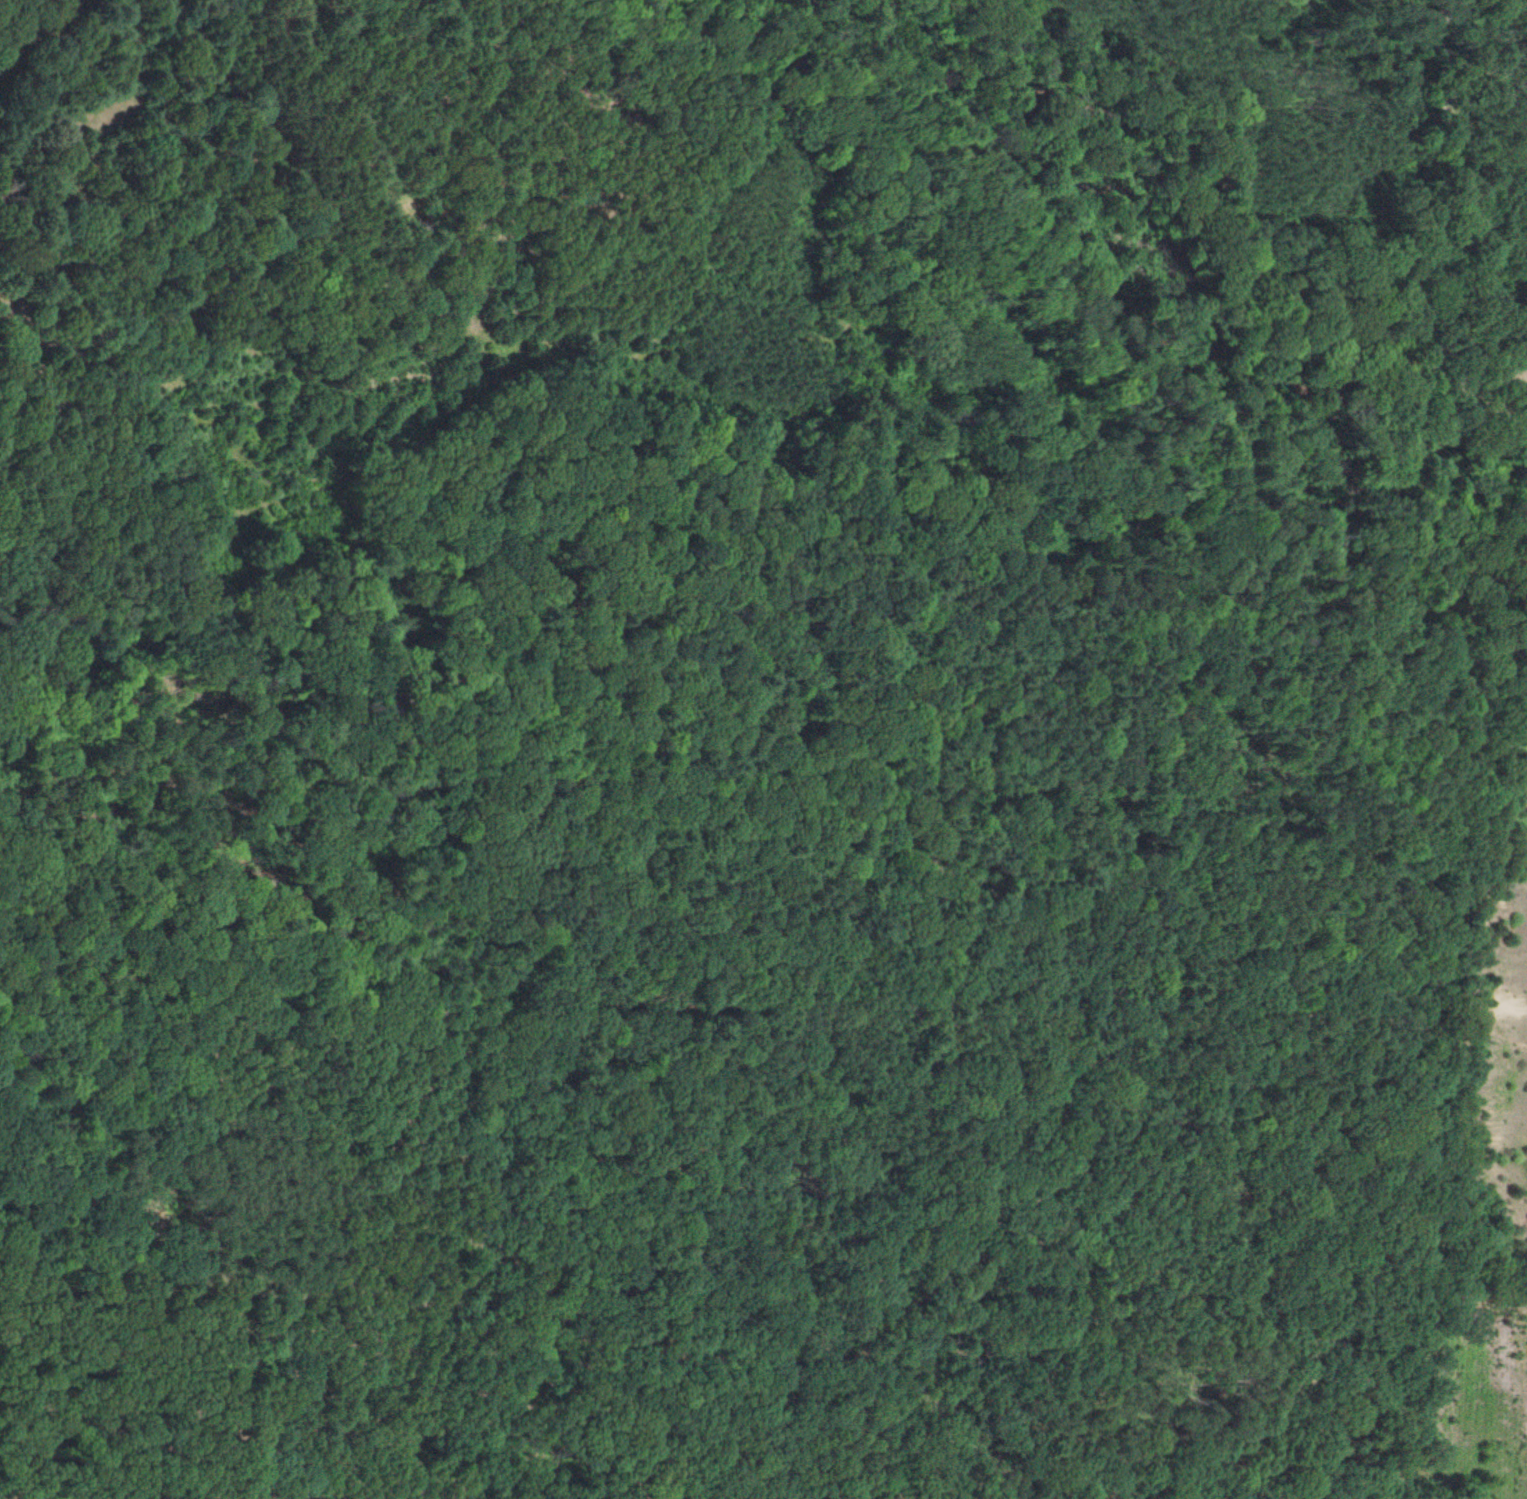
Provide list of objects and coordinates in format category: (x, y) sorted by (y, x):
road: (1447, 214)
road: (1447, 1173)

